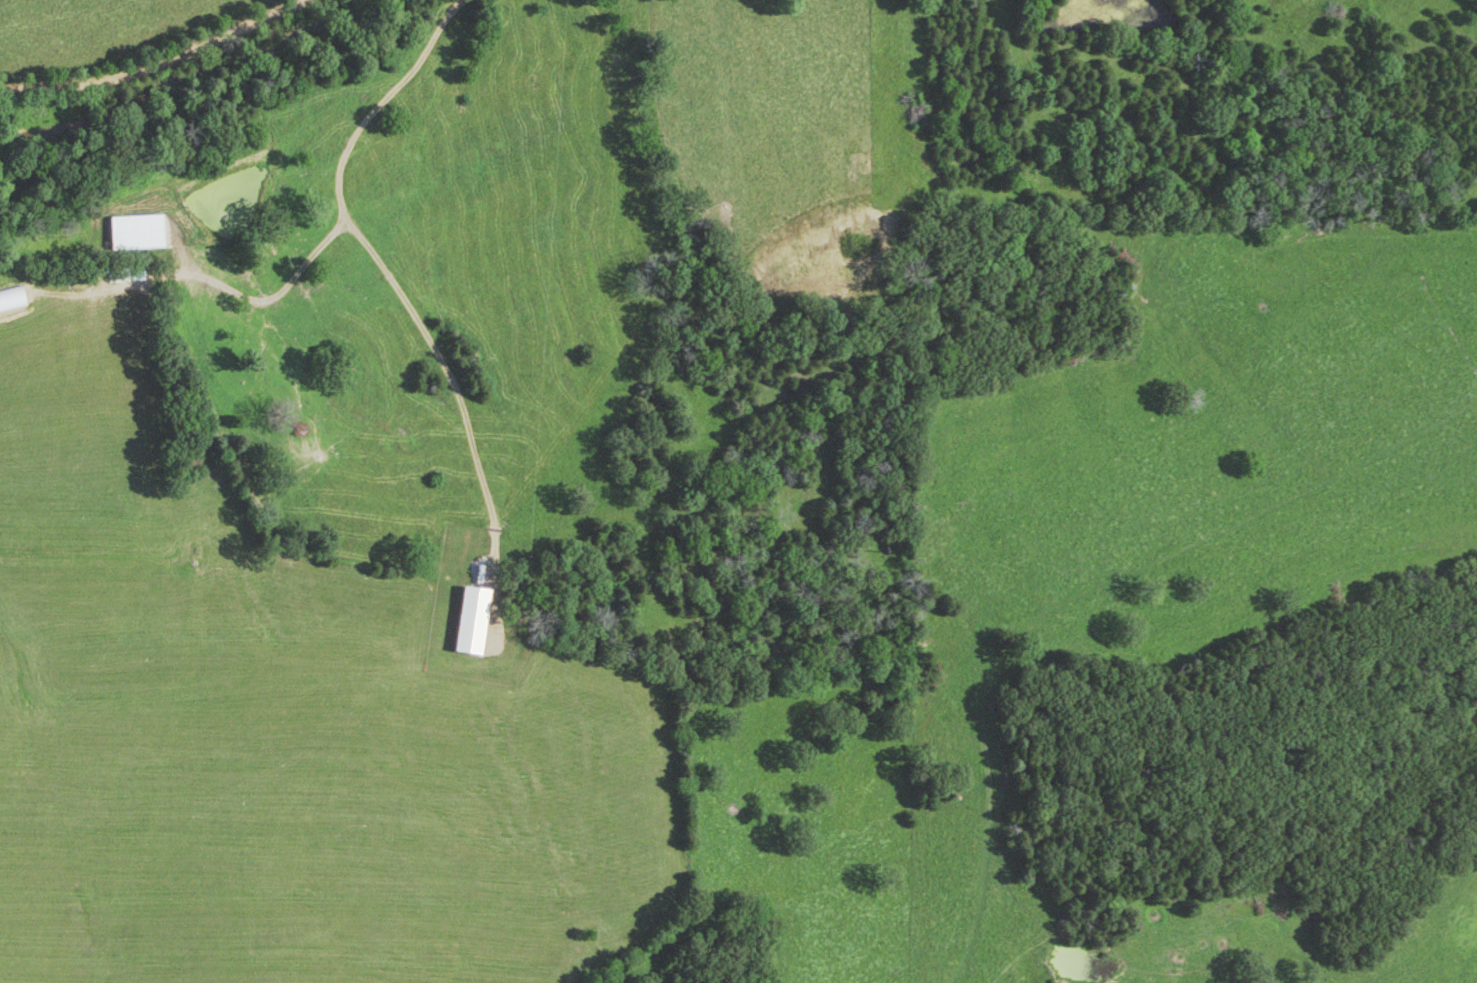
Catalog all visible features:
road: (165, 65)
building: (554, 528)

